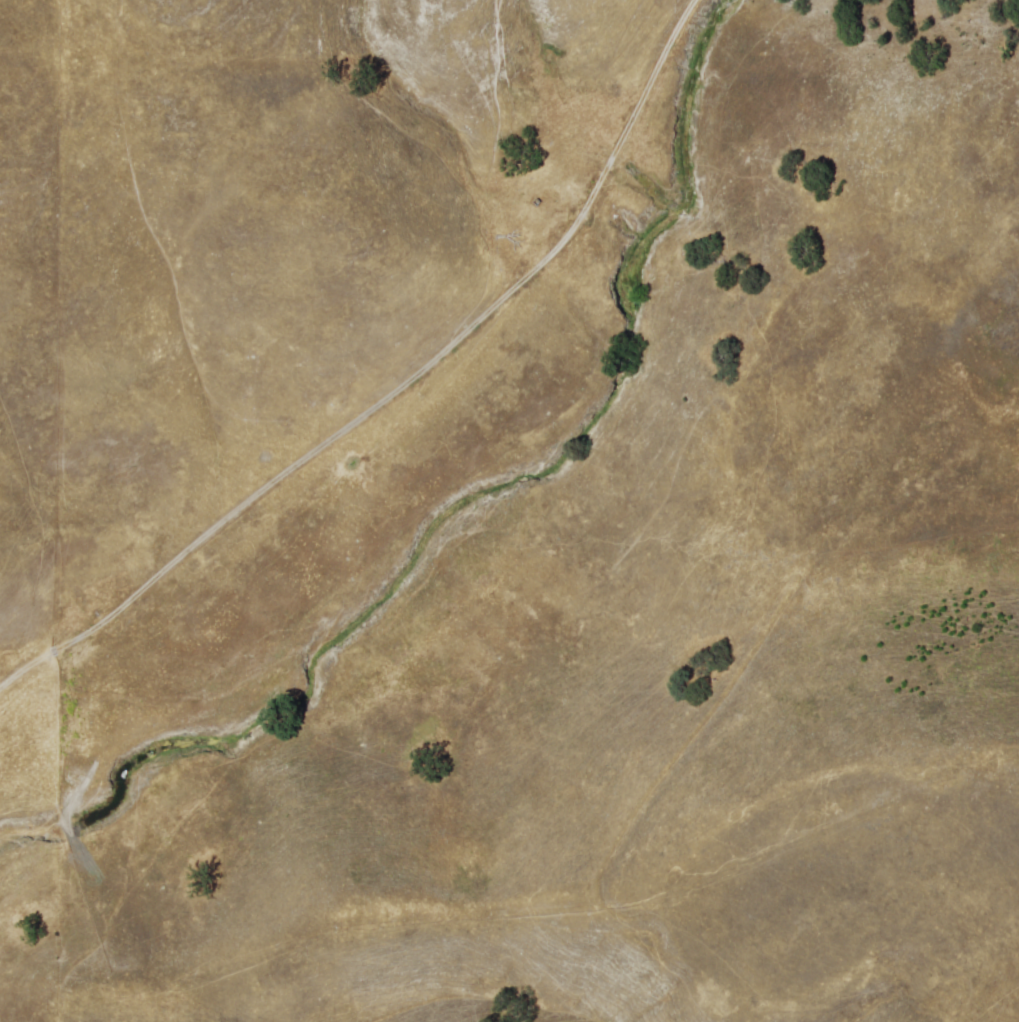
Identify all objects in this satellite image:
road: (395, 386)

